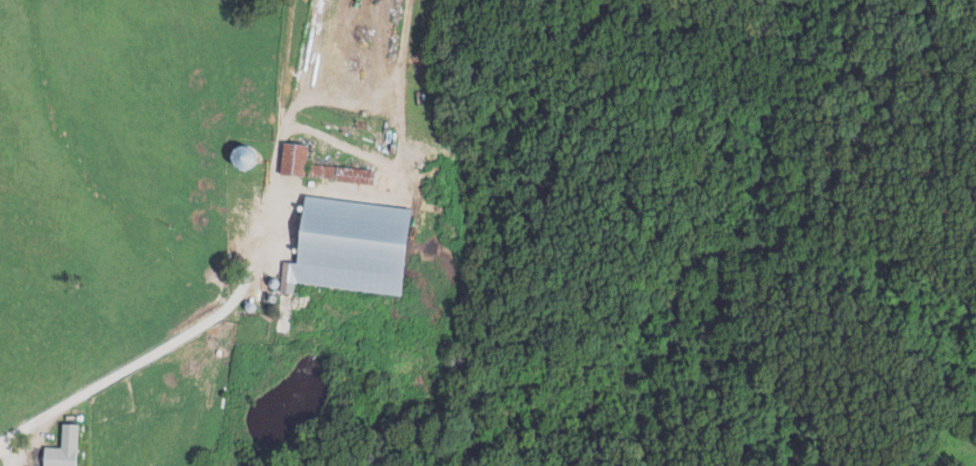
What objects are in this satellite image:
building: (290, 159)
building: (337, 173)
building: (345, 246)
road: (249, 283)
building: (60, 449)
road: (9, 456)

